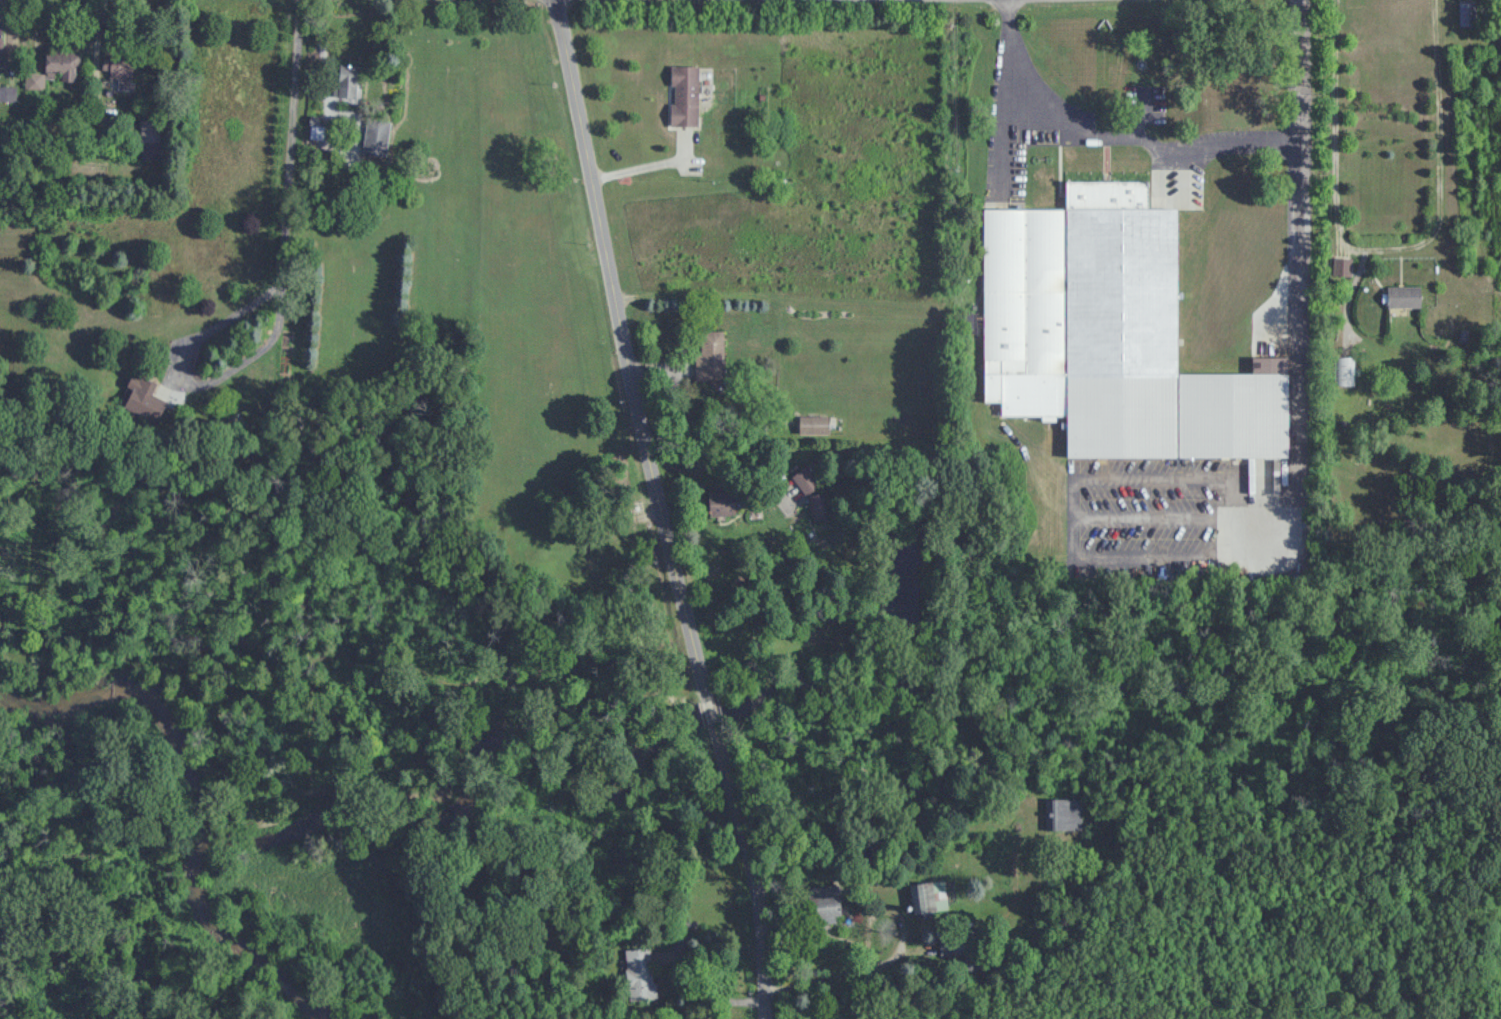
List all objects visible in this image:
building: (1472, 12)
building: (0, 42)
building: (61, 65)
building: (120, 70)
building: (347, 81)
building: (684, 95)
building: (150, 131)
building: (376, 135)
road: (1111, 137)
road: (292, 143)
road: (645, 168)
road: (1391, 250)
building: (1341, 266)
road: (1297, 285)
building: (1404, 296)
building: (1112, 335)
building: (710, 356)
road: (631, 357)
building: (1344, 371)
road: (192, 382)
building: (140, 389)
building: (813, 424)
road: (727, 437)
building: (806, 479)
building: (727, 502)
road: (1071, 512)
river: (193, 797)
road: (755, 864)
building: (927, 897)
building: (825, 909)
building: (640, 971)

